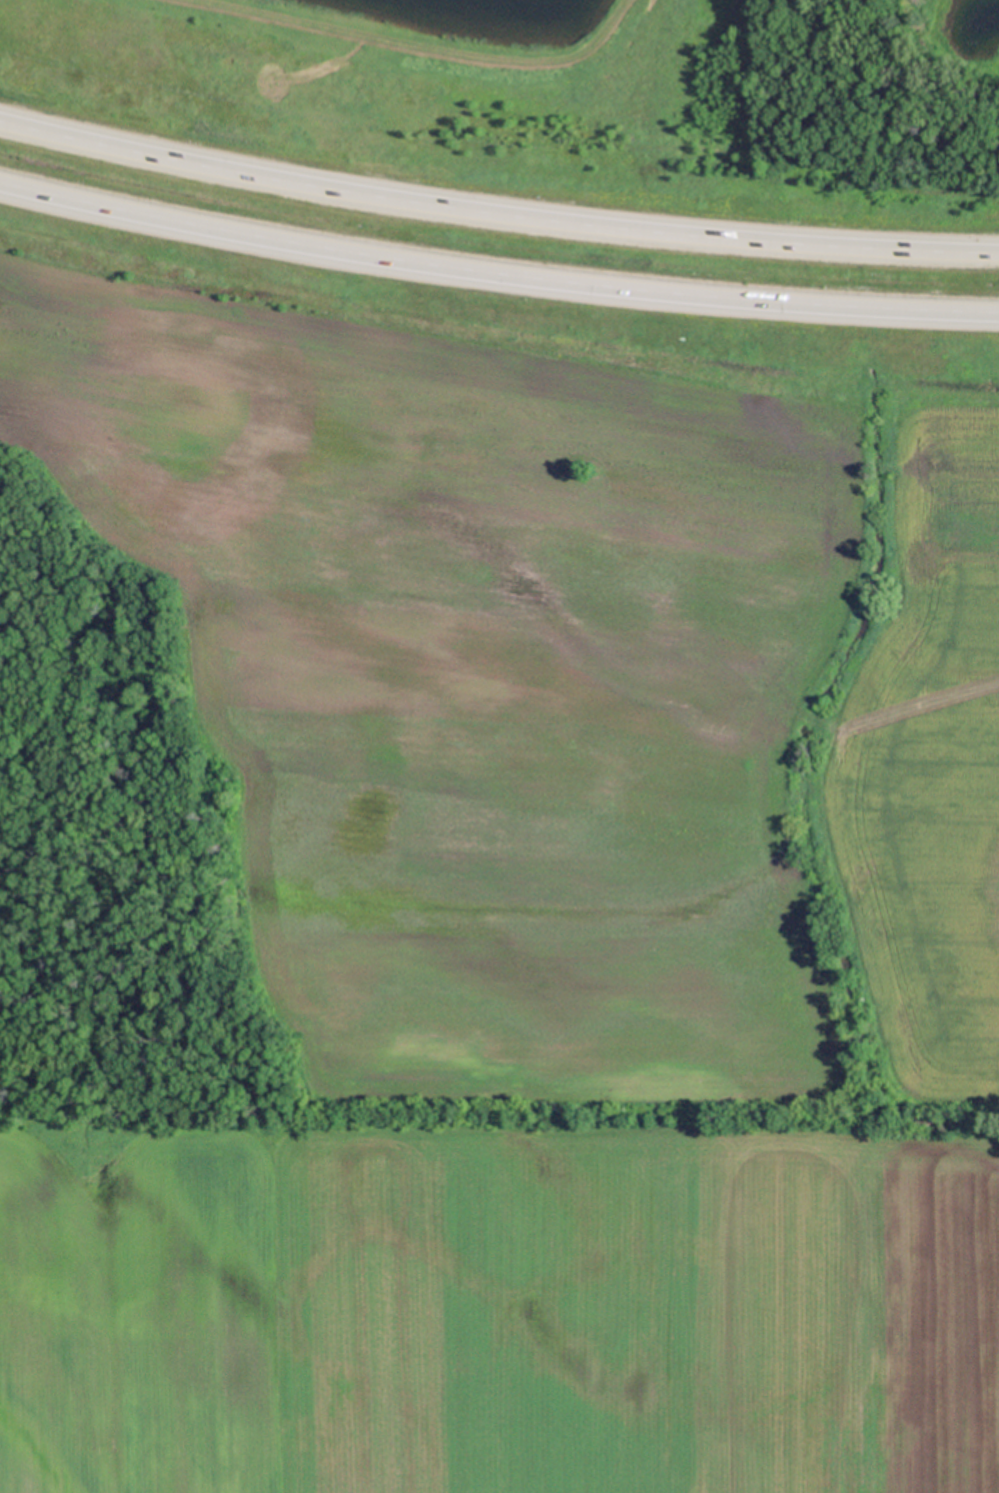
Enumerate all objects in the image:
road: (496, 211)
road: (496, 272)
building: (812, 719)

